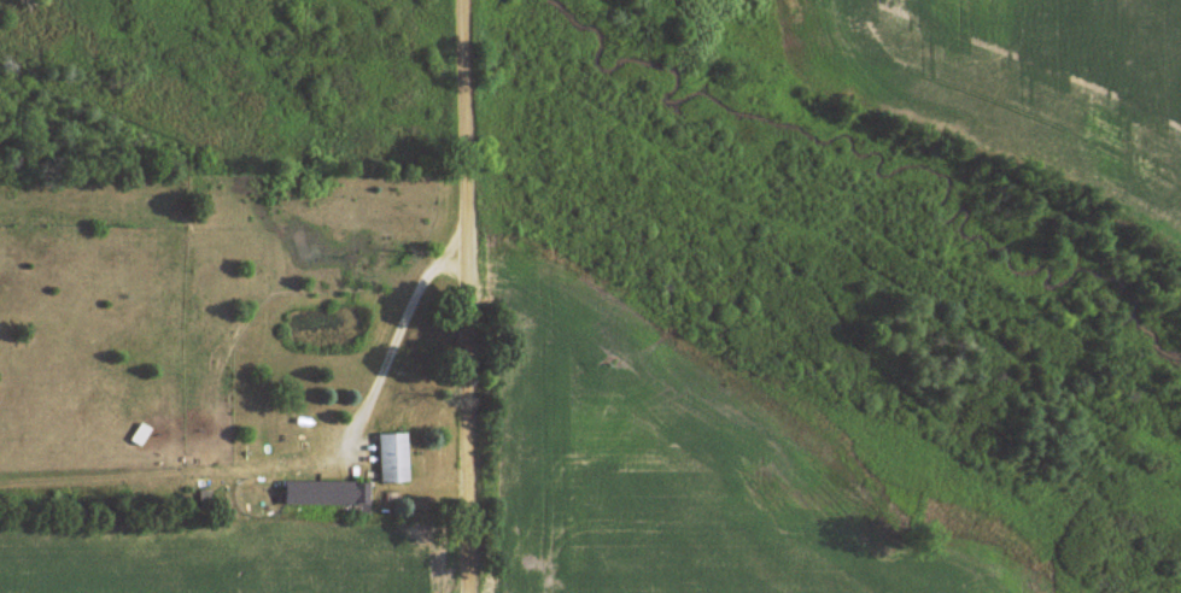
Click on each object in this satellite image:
road: (478, 296)
building: (393, 458)
building: (327, 493)

